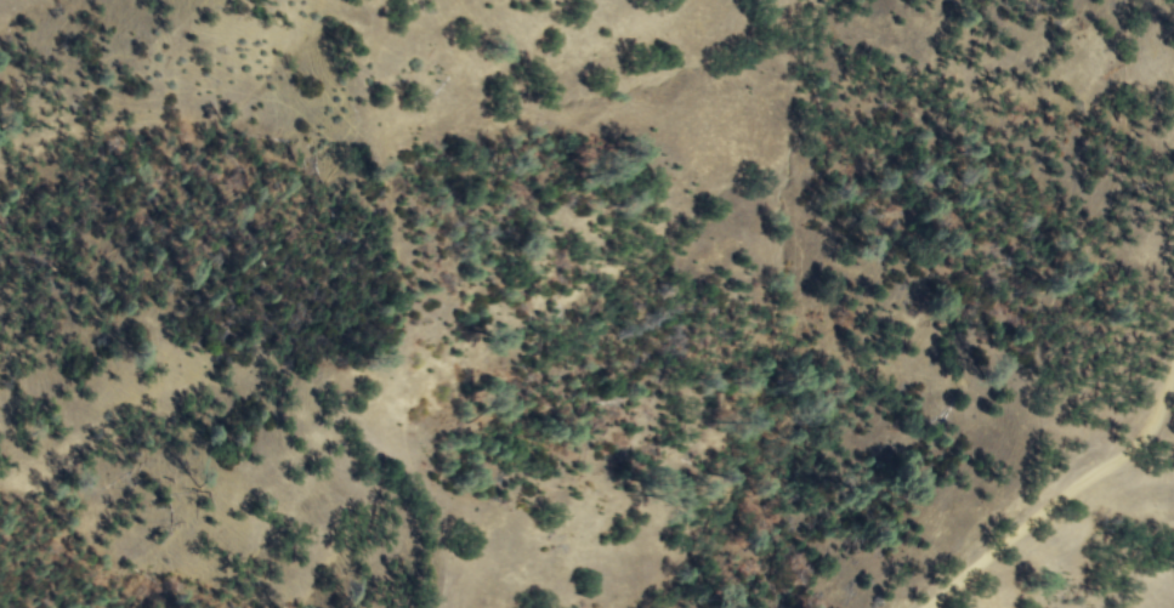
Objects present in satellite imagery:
road: (1065, 510)

